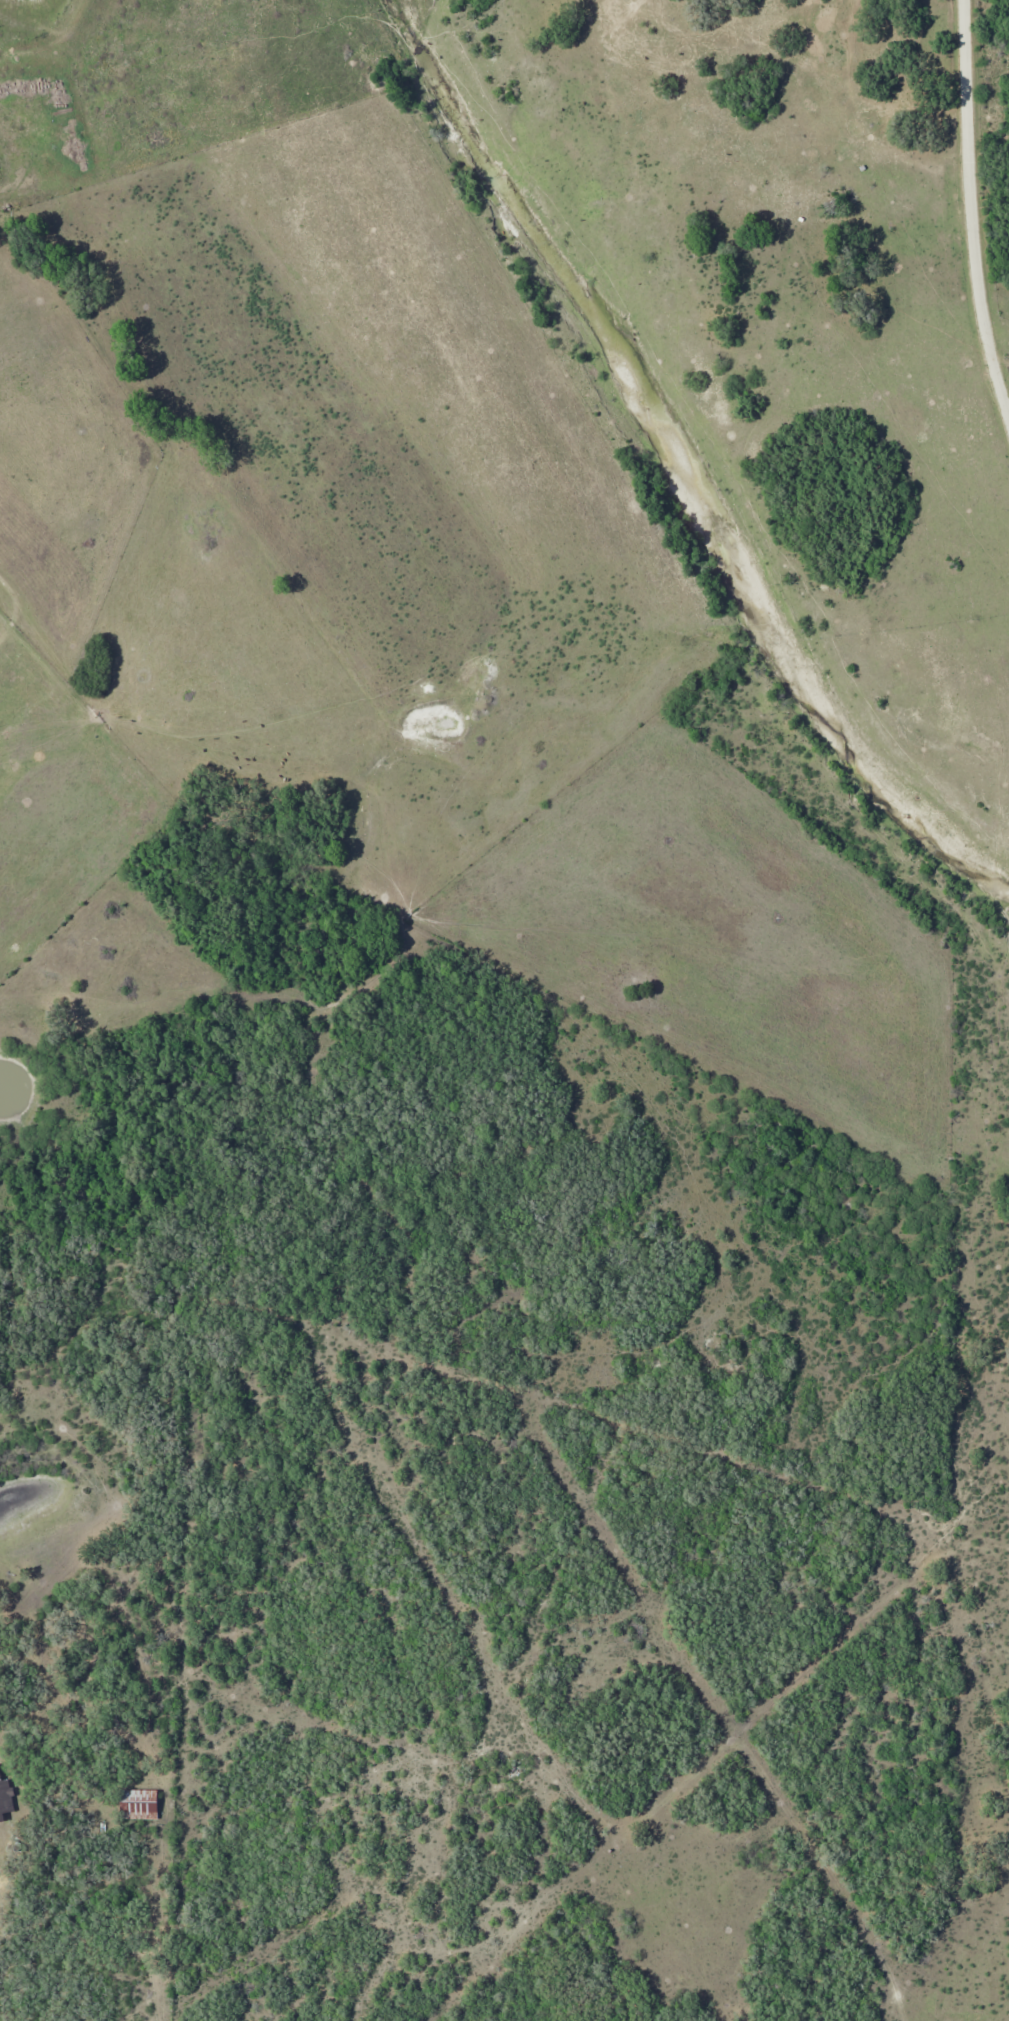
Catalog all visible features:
road: (978, 198)
road: (0, 582)
building: (5, 1800)
building: (140, 1804)

